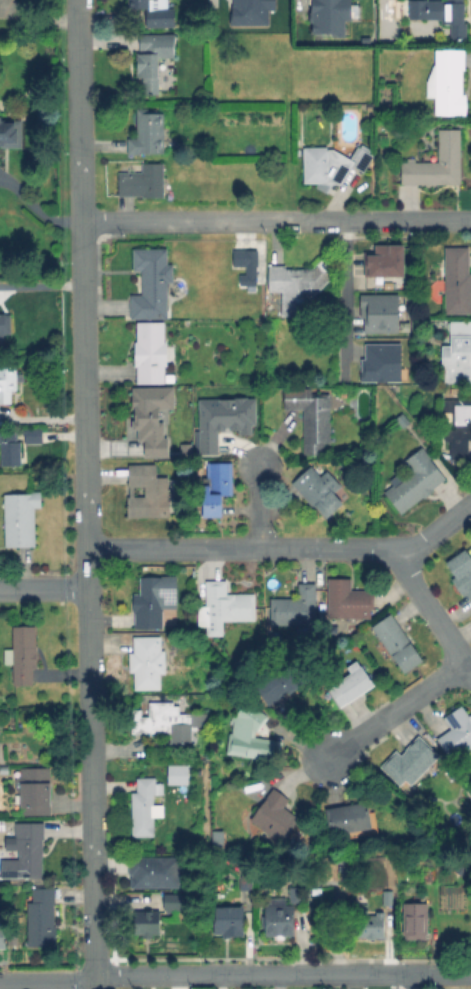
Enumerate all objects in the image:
road: (9, 4)
road: (294, 4)
road: (7, 9)
building: (398, 9)
building: (155, 12)
building: (440, 13)
road: (47, 15)
building: (331, 16)
building: (367, 41)
building: (153, 59)
building: (447, 82)
road: (81, 111)
building: (8, 133)
building: (147, 133)
building: (436, 162)
building: (331, 165)
building: (141, 181)
road: (39, 208)
road: (277, 221)
building: (246, 258)
building: (385, 260)
road: (84, 270)
building: (457, 280)
building: (151, 283)
road: (42, 284)
building: (298, 285)
road: (344, 287)
building: (380, 311)
building: (4, 325)
building: (150, 351)
building: (457, 354)
building: (378, 362)
building: (8, 382)
building: (150, 415)
building: (311, 417)
building: (222, 419)
building: (402, 420)
building: (458, 424)
building: (32, 435)
building: (9, 448)
building: (414, 481)
building: (173, 483)
building: (216, 487)
building: (317, 490)
building: (147, 492)
road: (255, 506)
building: (20, 518)
road: (285, 547)
building: (171, 568)
building: (462, 570)
road: (43, 585)
rooftop solar panel: (167, 595)
building: (348, 599)
building: (148, 603)
building: (227, 604)
building: (295, 607)
road: (431, 611)
building: (172, 638)
building: (397, 642)
road: (88, 652)
building: (24, 655)
building: (147, 662)
building: (351, 686)
building: (278, 689)
road: (395, 708)
building: (249, 714)
rooftop solar panel: (450, 721)
building: (166, 723)
building: (457, 733)
building: (410, 761)
building: (175, 773)
building: (35, 790)
building: (145, 805)
building: (275, 815)
building: (348, 818)
building: (3, 826)
building: (24, 850)
building: (155, 873)
building: (246, 882)
building: (294, 893)
building: (385, 896)
building: (176, 903)
building: (41, 917)
building: (278, 920)
building: (228, 921)
building: (146, 922)
building: (415, 922)
building: (367, 923)
building: (3, 938)
road: (442, 973)
road: (253, 974)
road: (47, 981)
road: (414, 981)

